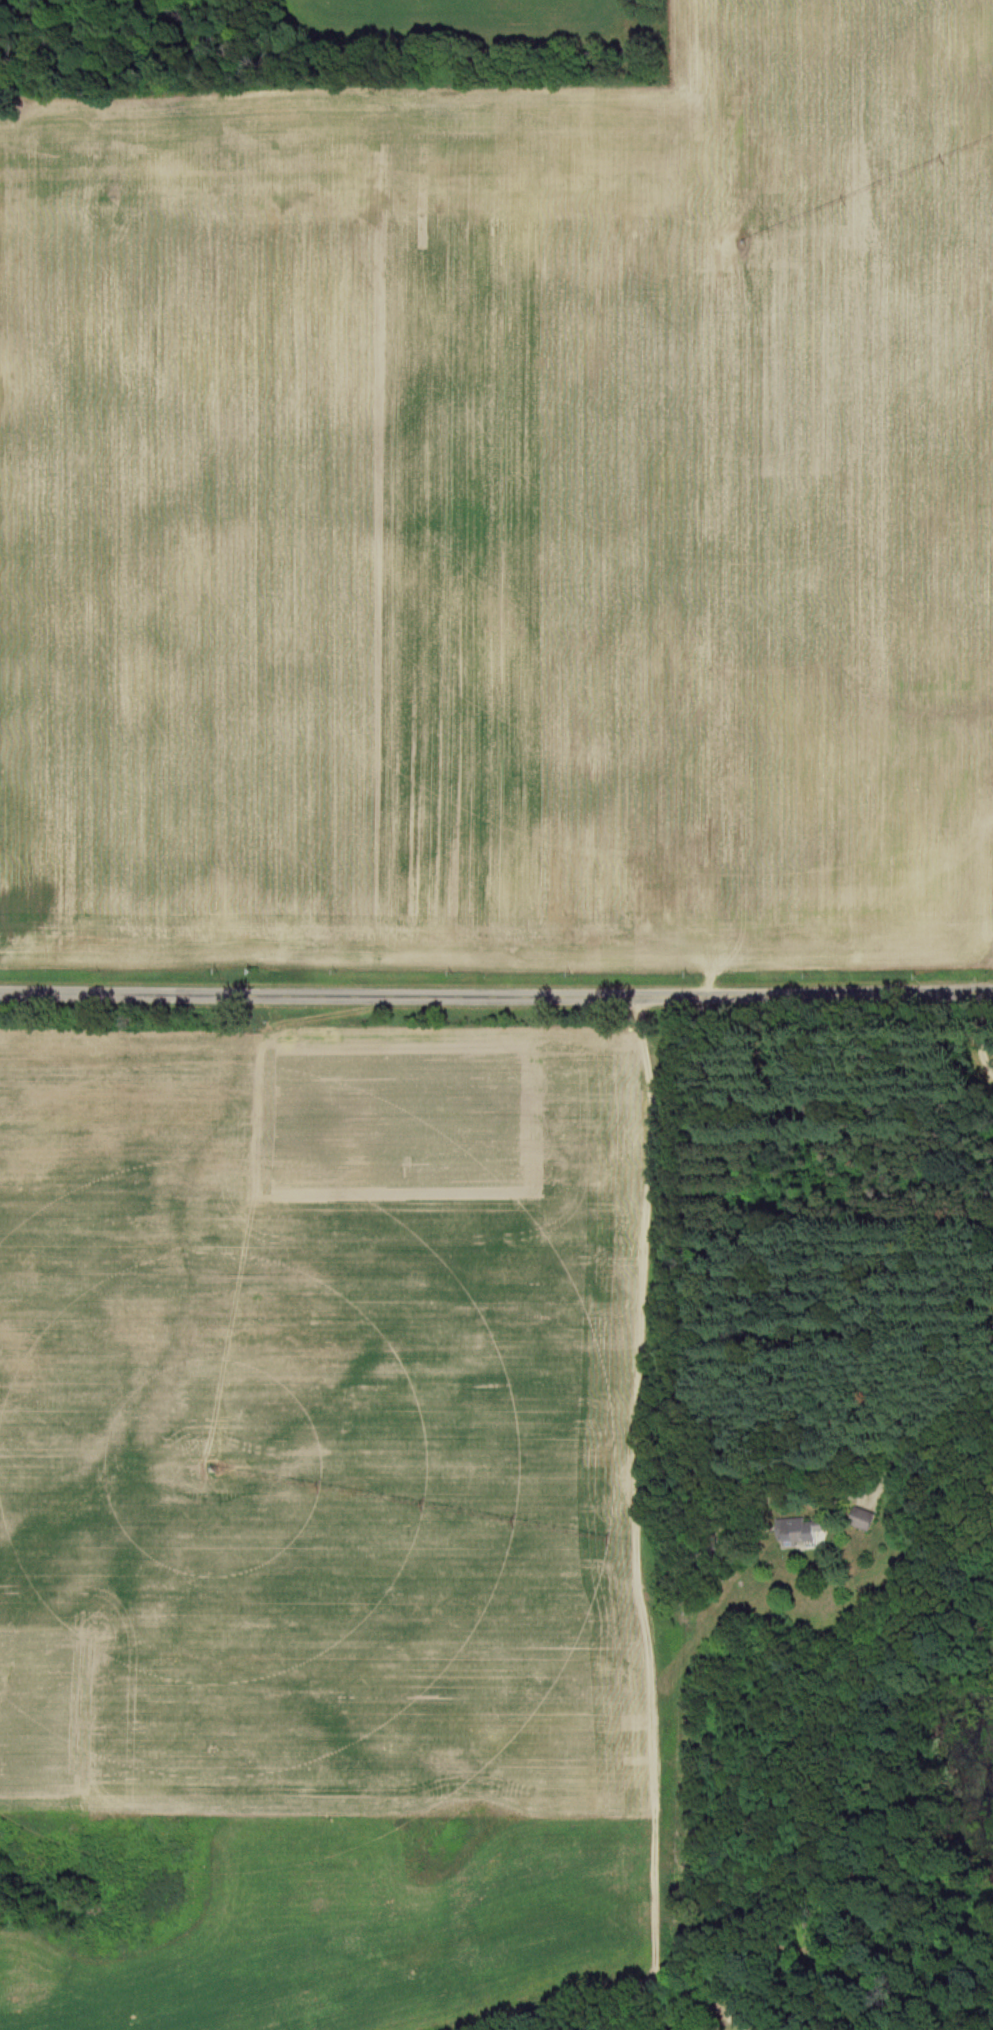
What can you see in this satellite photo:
road: (496, 1000)
road: (983, 1032)
road: (929, 1424)
building: (865, 1520)
building: (805, 1530)
road: (597, 1982)

